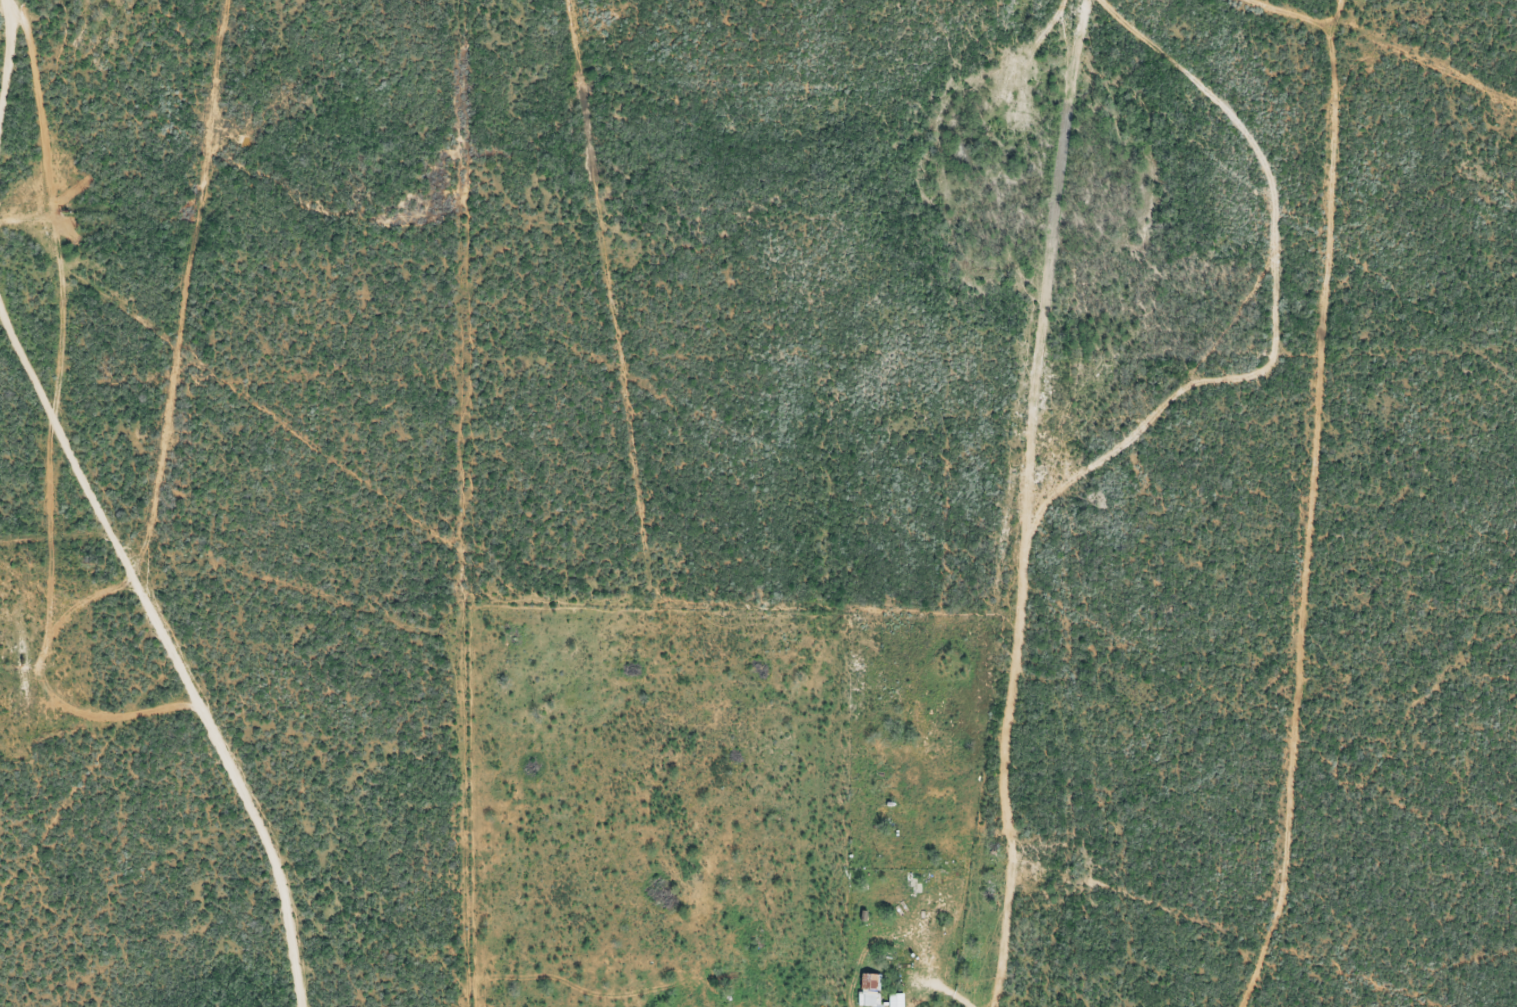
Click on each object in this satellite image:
road: (1264, 287)
road: (1034, 497)

